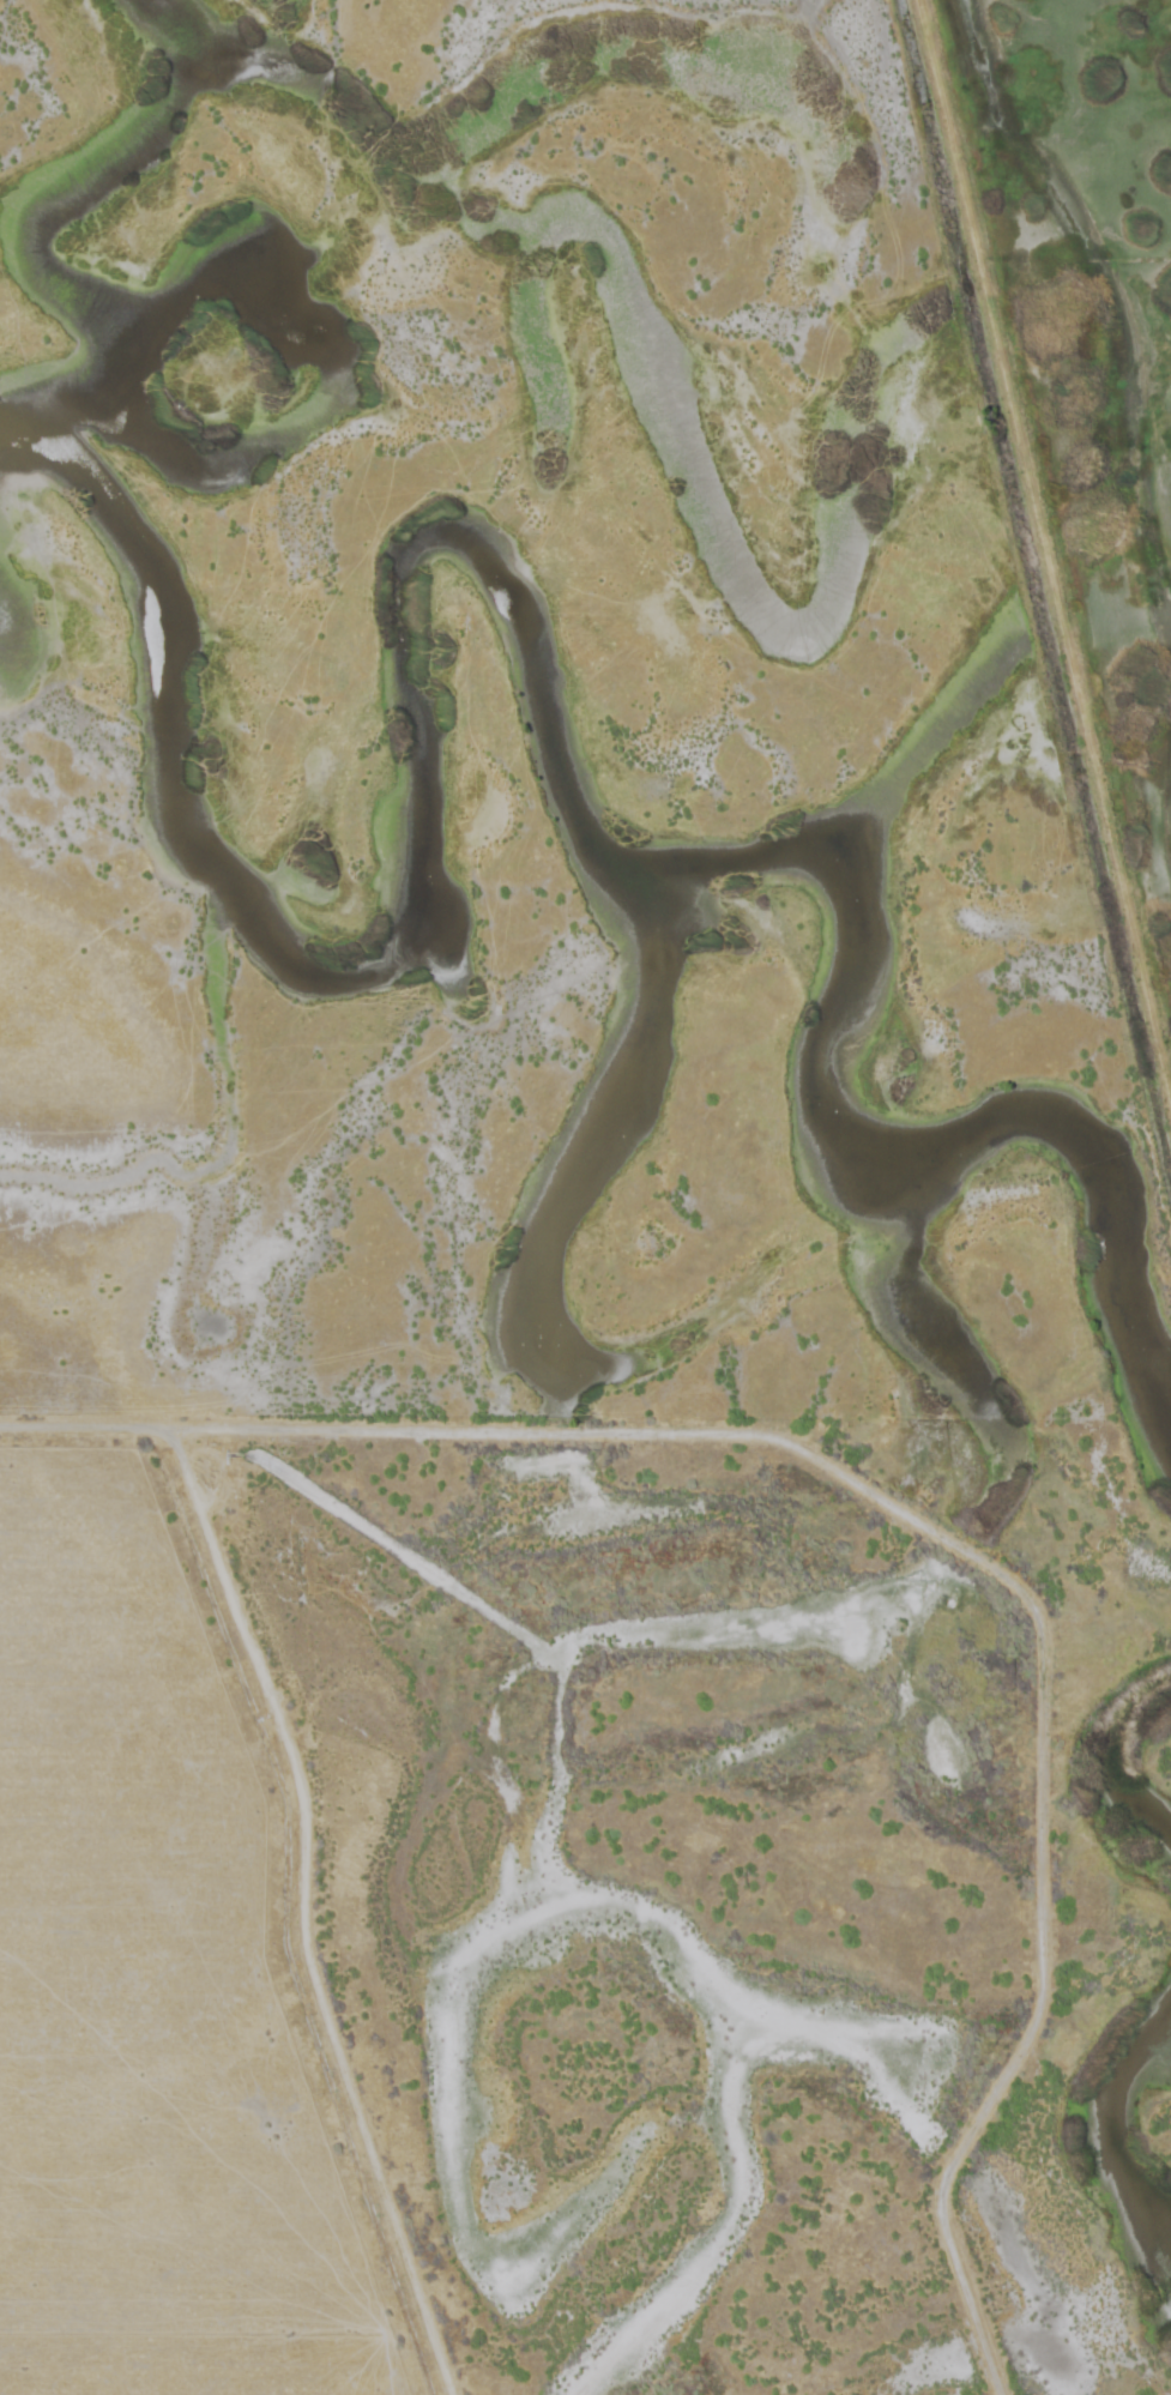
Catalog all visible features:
crop: (170, 1974)

